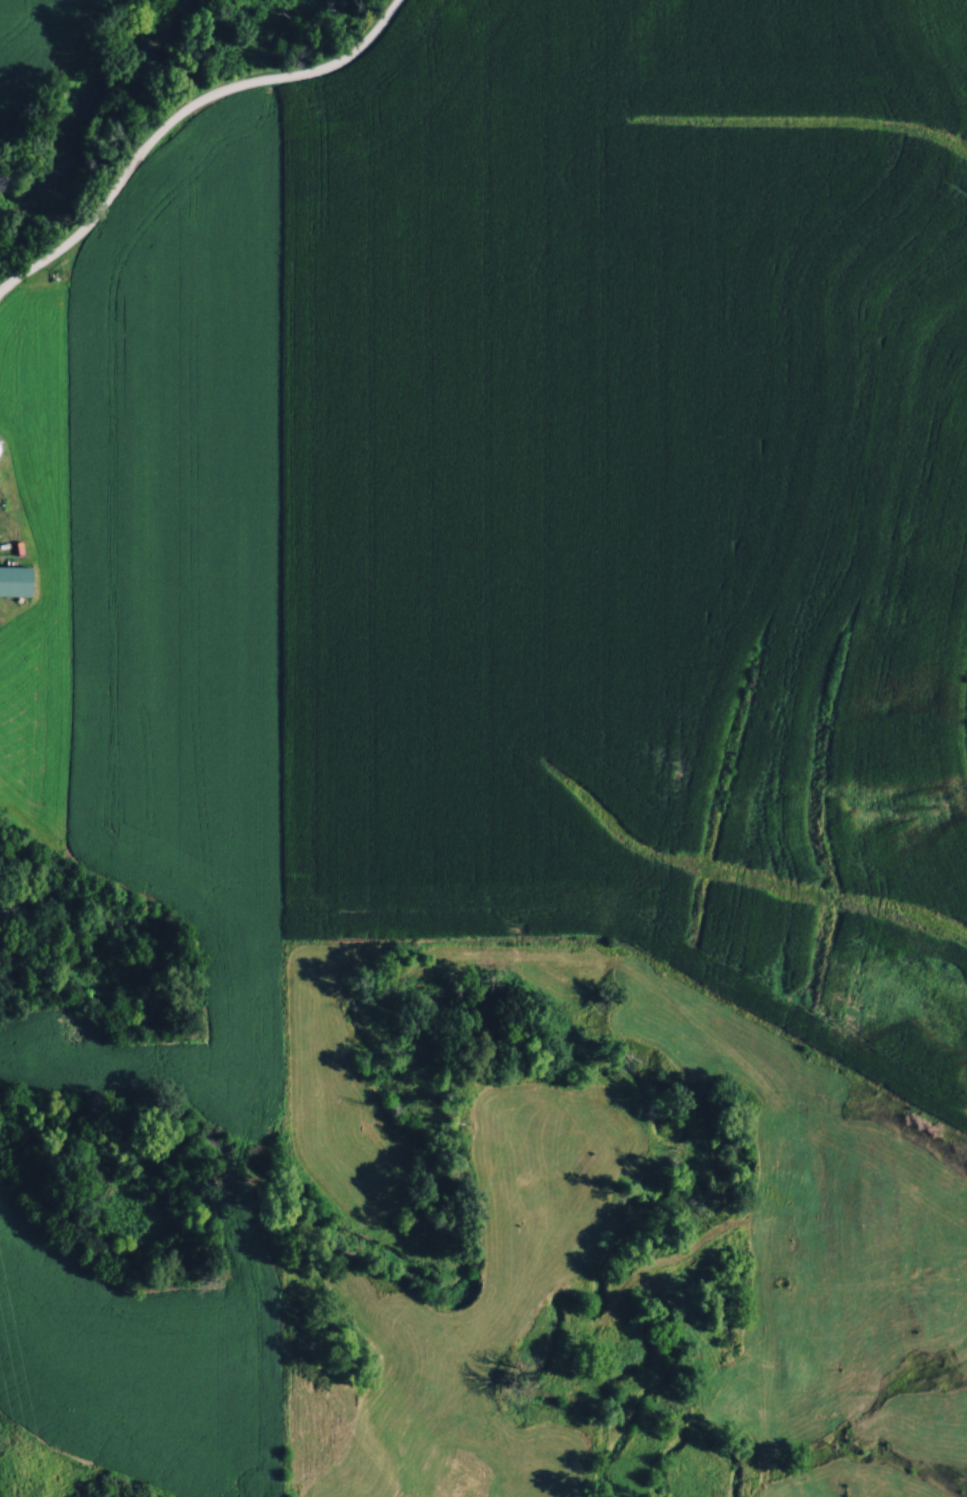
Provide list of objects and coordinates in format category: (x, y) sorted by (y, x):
road: (182, 114)
building: (0, 552)

